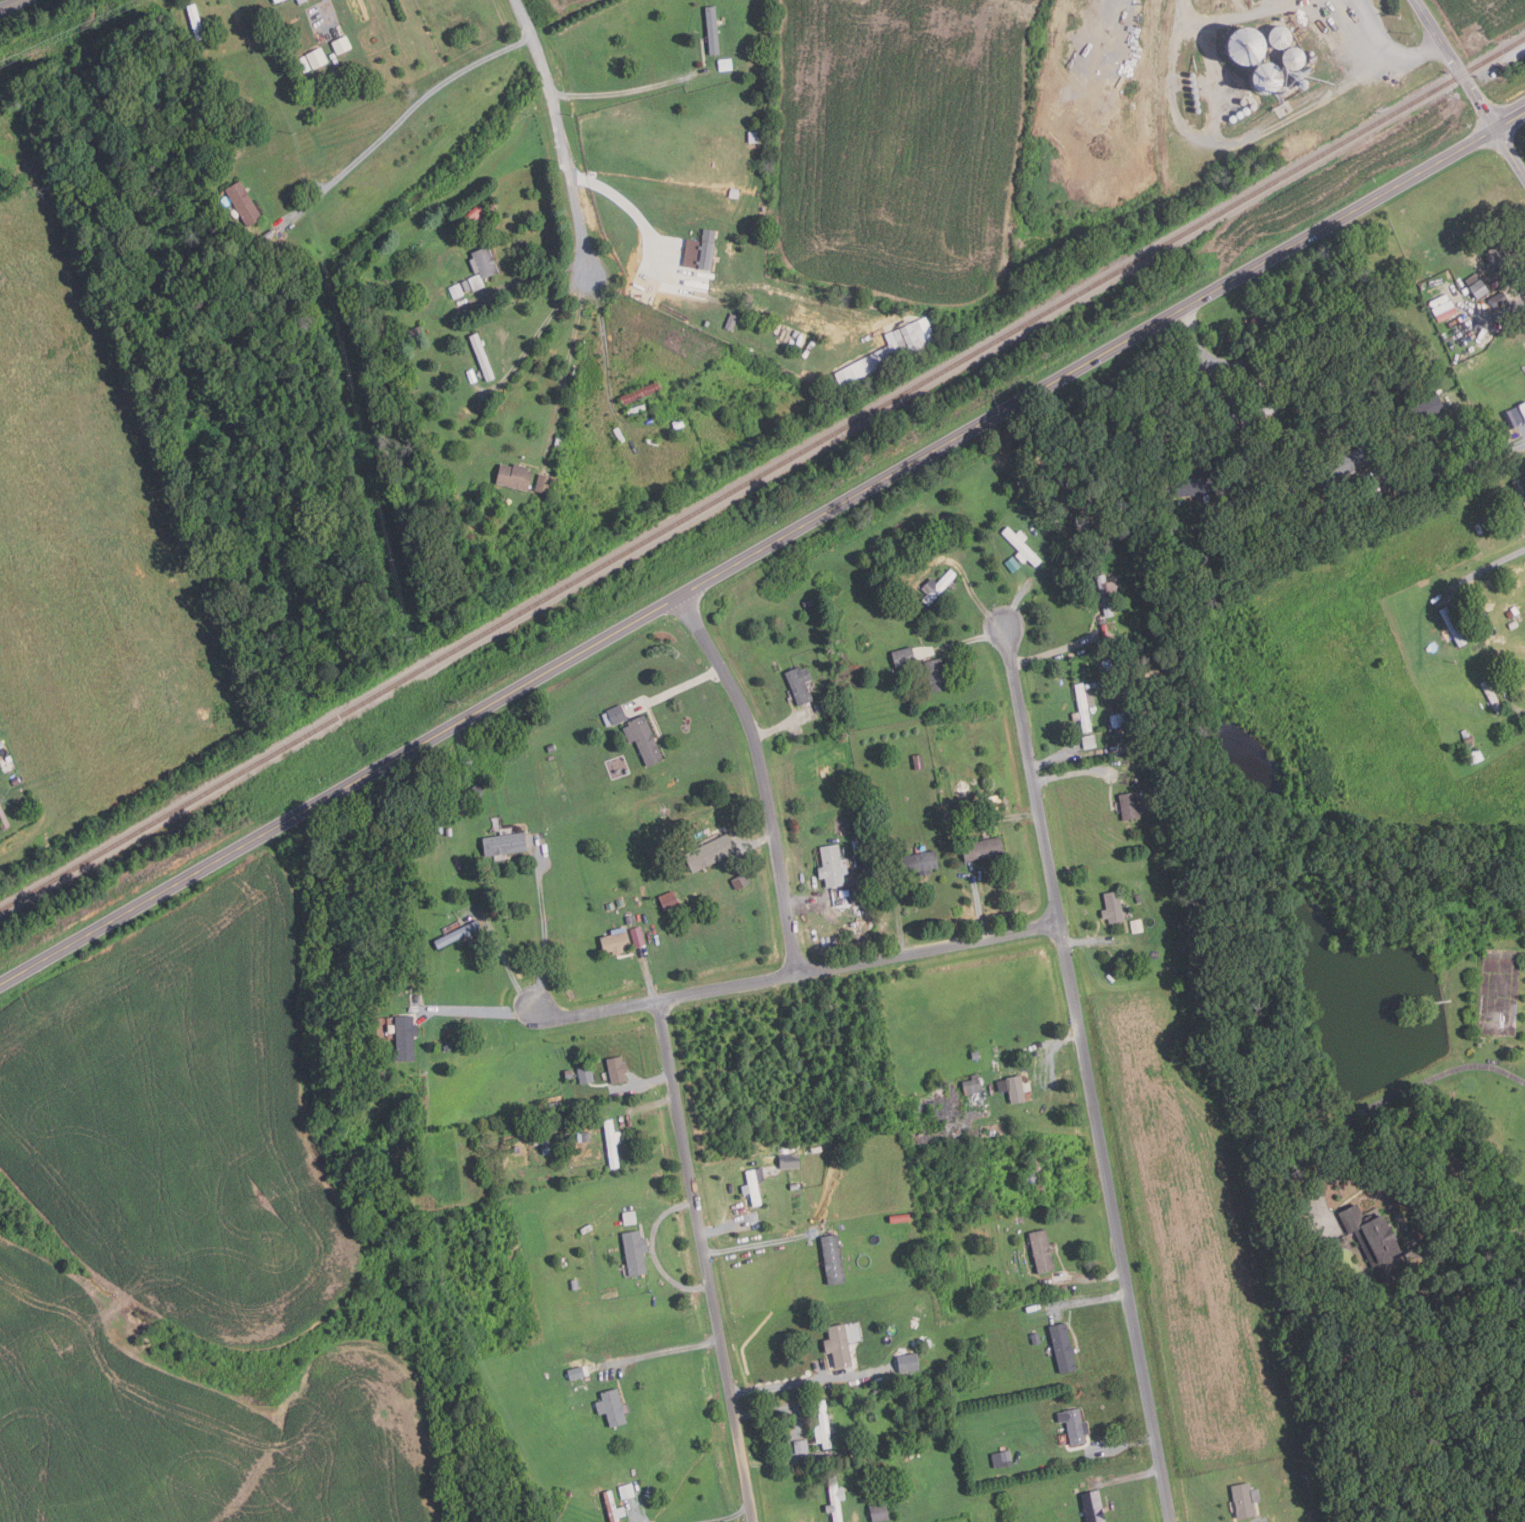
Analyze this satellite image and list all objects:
building: (277, 1)
building: (301, 1)
road: (12, 5)
road: (328, 9)
building: (195, 22)
building: (712, 31)
building: (1036, 36)
building: (1280, 37)
silo: (1280, 37)
building: (341, 44)
building: (1245, 46)
silo: (1245, 46)
road: (1388, 46)
building: (333, 56)
building: (317, 58)
building: (1293, 58)
silo: (1293, 58)
building: (336, 61)
building: (304, 64)
building: (726, 65)
building: (1193, 75)
silo: (1193, 75)
building: (1298, 75)
silo: (1298, 75)
building: (1265, 79)
silo: (1265, 79)
building: (1194, 82)
silo: (1194, 82)
building: (1304, 86)
silo: (1304, 86)
road: (1469, 86)
building: (1195, 89)
silo: (1195, 89)
road: (622, 92)
building: (1196, 96)
silo: (1196, 96)
building: (1197, 103)
silo: (1197, 103)
building: (1198, 110)
silo: (1198, 110)
road: (408, 111)
road: (561, 136)
building: (753, 137)
road: (1231, 142)
building: (734, 194)
building: (244, 203)
building: (491, 207)
building: (474, 214)
road: (642, 222)
building: (704, 251)
building: (1503, 251)
building: (484, 262)
building: (476, 283)
building: (466, 286)
building: (1477, 286)
building: (456, 291)
building: (750, 298)
building: (1498, 300)
building: (731, 322)
road: (541, 328)
building: (415, 332)
building: (1467, 333)
building: (400, 338)
building: (388, 340)
road: (605, 345)
building: (890, 350)
building: (482, 357)
road: (566, 365)
building: (1474, 365)
building: (822, 382)
road: (1187, 387)
building: (641, 393)
building: (1427, 407)
building: (1523, 408)
building: (1261, 413)
road: (1444, 413)
building: (1232, 422)
building: (678, 423)
building: (1379, 443)
building: (1351, 461)
road: (1464, 468)
railway: (762, 476)
building: (514, 477)
building: (545, 484)
building: (1196, 486)
building: (1520, 489)
building: (1227, 505)
building: (1516, 511)
building: (1479, 529)
building: (1022, 547)
road: (762, 549)
building: (500, 559)
road: (1487, 576)
building: (937, 587)
building: (1106, 594)
road: (975, 595)
road: (1019, 597)
building: (808, 602)
building: (1515, 610)
building: (1510, 614)
building: (1513, 625)
building: (1453, 626)
building: (1105, 632)
building: (1128, 636)
building: (1116, 638)
road: (966, 639)
road: (1052, 653)
building: (904, 657)
building: (937, 675)
building: (800, 684)
road: (676, 690)
building: (1492, 694)
building: (1084, 706)
building: (819, 708)
building: (614, 716)
building: (1118, 719)
road: (1523, 719)
road: (784, 725)
building: (643, 739)
building: (1468, 739)
building: (1089, 741)
building: (1, 744)
building: (552, 747)
building: (1475, 756)
road: (1054, 758)
building: (919, 762)
road: (1076, 773)
road: (762, 776)
building: (15, 781)
building: (476, 789)
building: (994, 802)
building: (1130, 804)
building: (1190, 804)
building: (971, 817)
building: (3, 820)
building: (707, 821)
building: (440, 829)
building: (504, 843)
road: (749, 843)
building: (983, 848)
building: (710, 852)
building: (919, 861)
building: (459, 863)
building: (833, 865)
building: (890, 867)
building: (872, 869)
building: (741, 880)
building: (858, 893)
road: (810, 896)
building: (1139, 897)
building: (669, 901)
building: (620, 902)
road: (978, 903)
building: (1113, 907)
building: (848, 909)
road: (900, 915)
building: (630, 919)
road: (545, 925)
building: (1137, 925)
building: (457, 933)
building: (638, 937)
building: (616, 941)
road: (1091, 941)
road: (506, 962)
road: (859, 962)
road: (651, 976)
building: (419, 998)
road: (480, 1012)
road: (597, 1012)
building: (405, 1036)
building: (448, 1047)
building: (996, 1049)
road: (1052, 1049)
building: (976, 1054)
road: (669, 1061)
building: (617, 1069)
road: (1087, 1072)
building: (569, 1073)
building: (586, 1074)
road: (1440, 1074)
road: (652, 1080)
building: (972, 1084)
building: (1013, 1087)
building: (555, 1104)
road: (653, 1104)
road: (1352, 1117)
building: (584, 1136)
building: (540, 1141)
building: (612, 1142)
building: (517, 1149)
building: (545, 1149)
road: (1346, 1150)
building: (790, 1161)
building: (1035, 1174)
building: (753, 1185)
building: (793, 1185)
building: (900, 1218)
road: (728, 1227)
building: (1375, 1239)
road: (761, 1243)
building: (1041, 1249)
building: (635, 1252)
road: (654, 1252)
building: (833, 1260)
road: (1092, 1277)
building: (575, 1283)
road: (1088, 1299)
road: (717, 1322)
building: (1036, 1338)
building: (839, 1345)
building: (1064, 1348)
road: (667, 1350)
building: (909, 1362)
road: (811, 1381)
building: (584, 1385)
building: (877, 1390)
building: (612, 1407)
building: (1076, 1426)
building: (823, 1427)
road: (1121, 1444)
building: (802, 1446)
building: (1003, 1458)
building: (1310, 1477)
road: (1124, 1478)
building: (627, 1491)
building: (941, 1491)
building: (879, 1494)
building: (835, 1498)
building: (1244, 1500)
building: (1093, 1506)
building: (613, 1507)
building: (879, 1512)
road: (739, 1518)
road: (641, 1519)
building: (1012, 1521)

